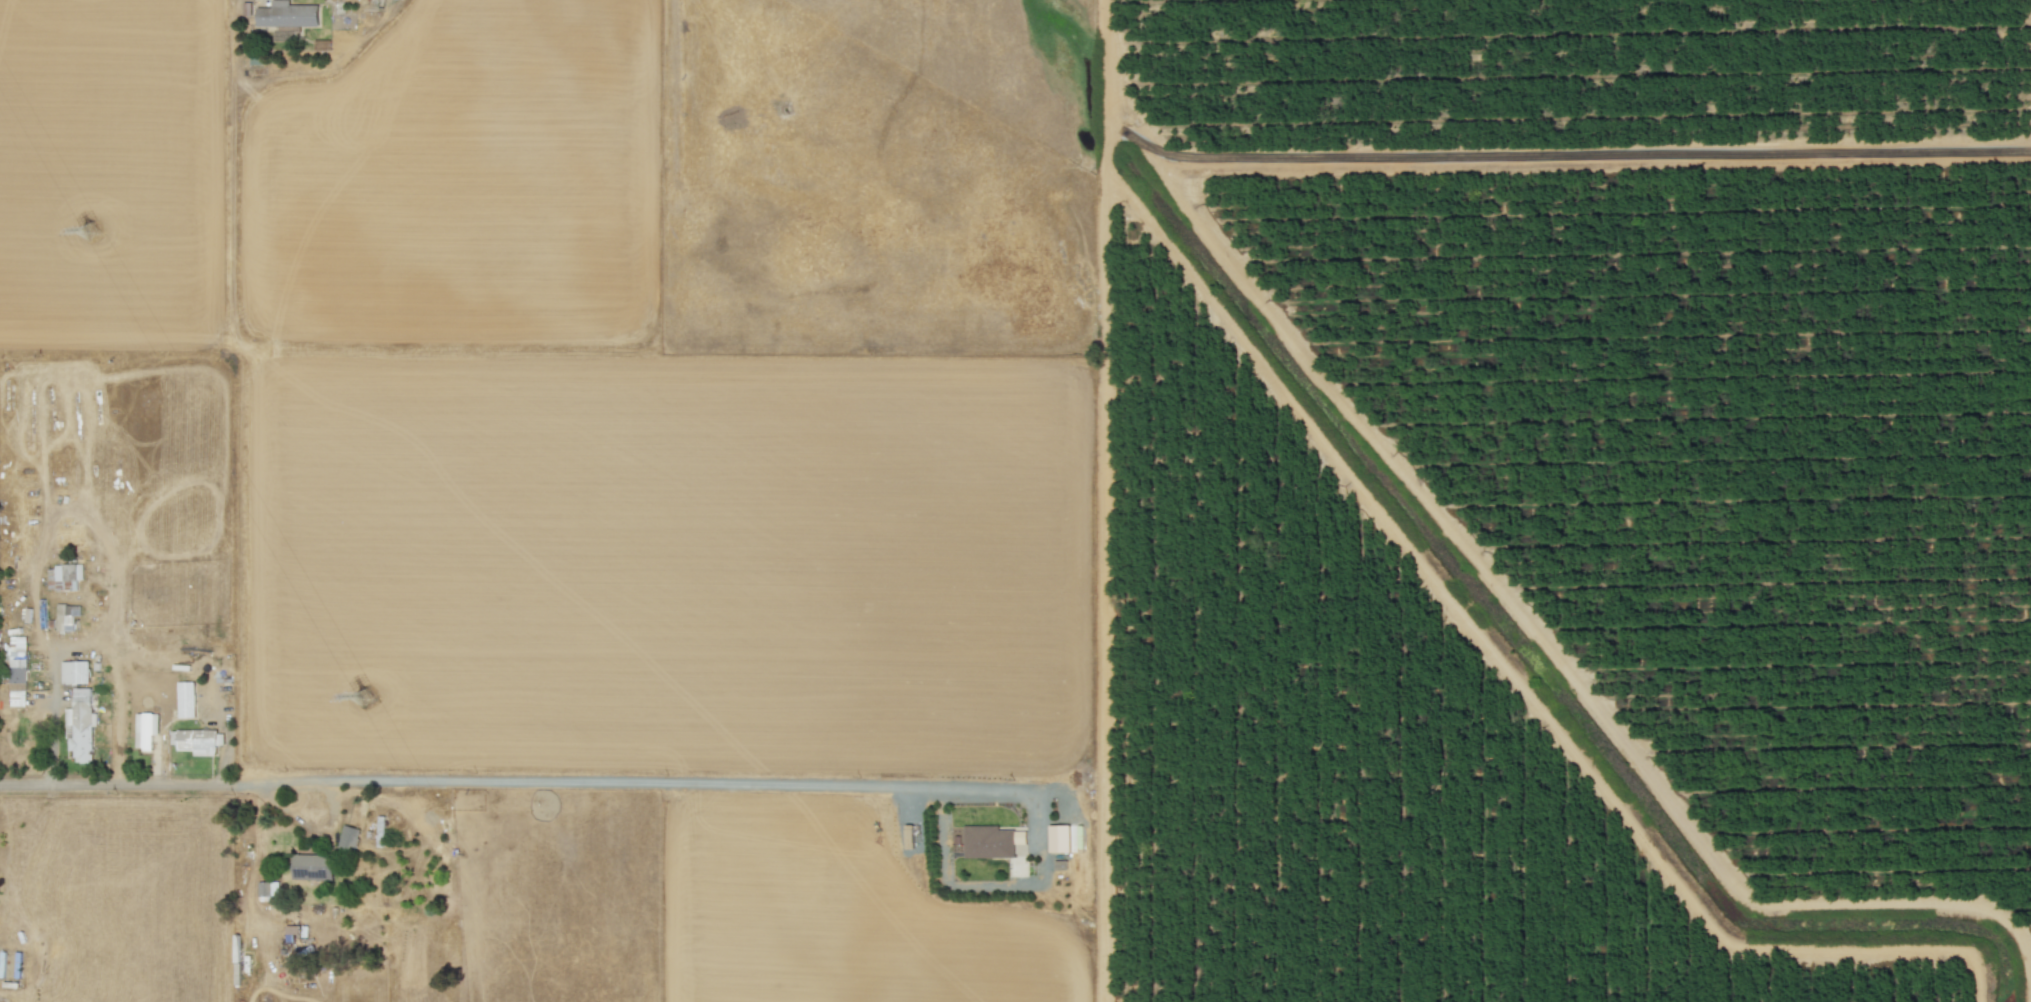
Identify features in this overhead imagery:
building: (287, 14)
power tower: (89, 226)
building: (64, 577)
building: (66, 616)
road: (82, 640)
building: (17, 663)
building: (75, 672)
building: (185, 699)
power tower: (366, 699)
building: (80, 725)
building: (146, 729)
building: (199, 741)
road: (118, 784)
road: (764, 786)
building: (348, 838)
building: (1059, 838)
building: (988, 842)
building: (312, 866)
building: (268, 890)

